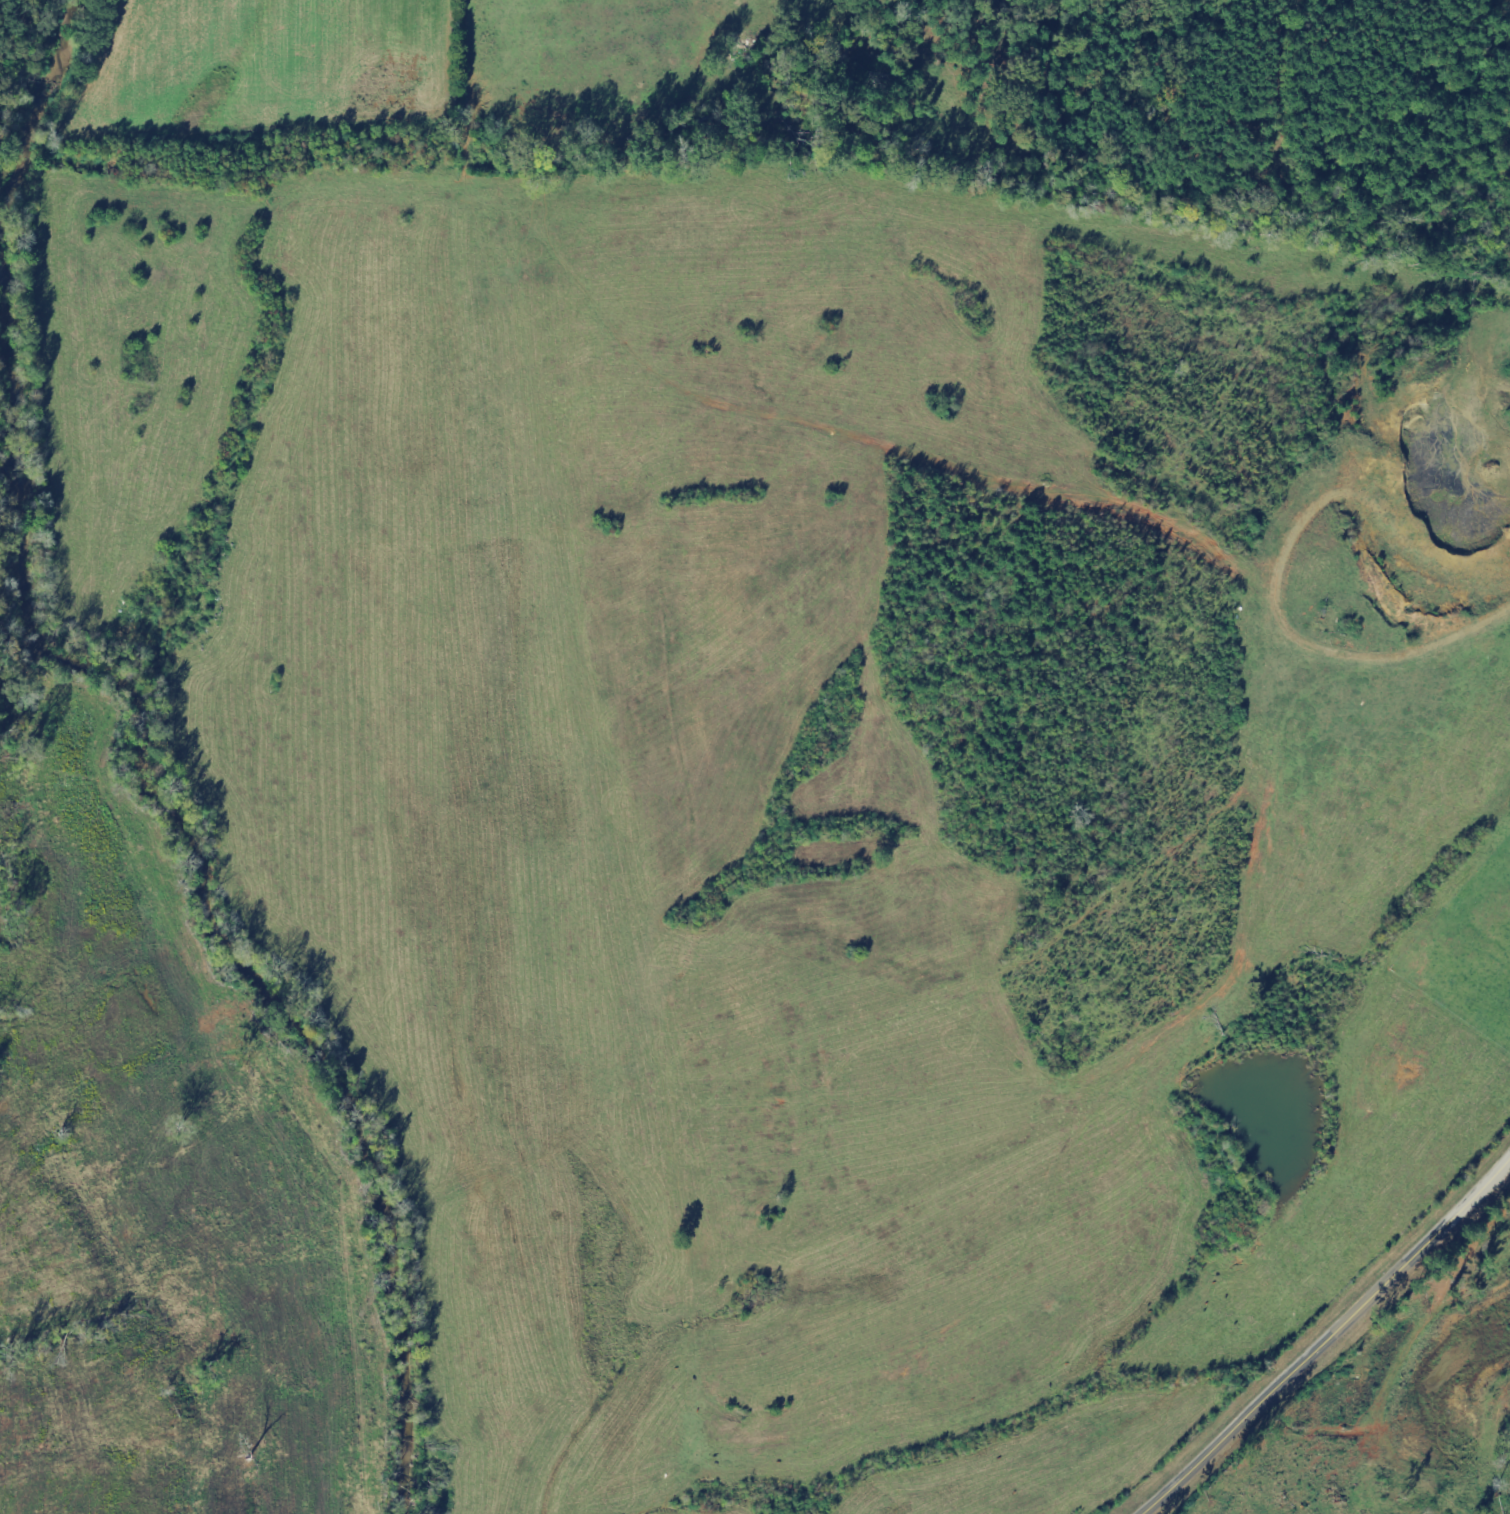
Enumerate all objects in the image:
road: (1329, 1337)

